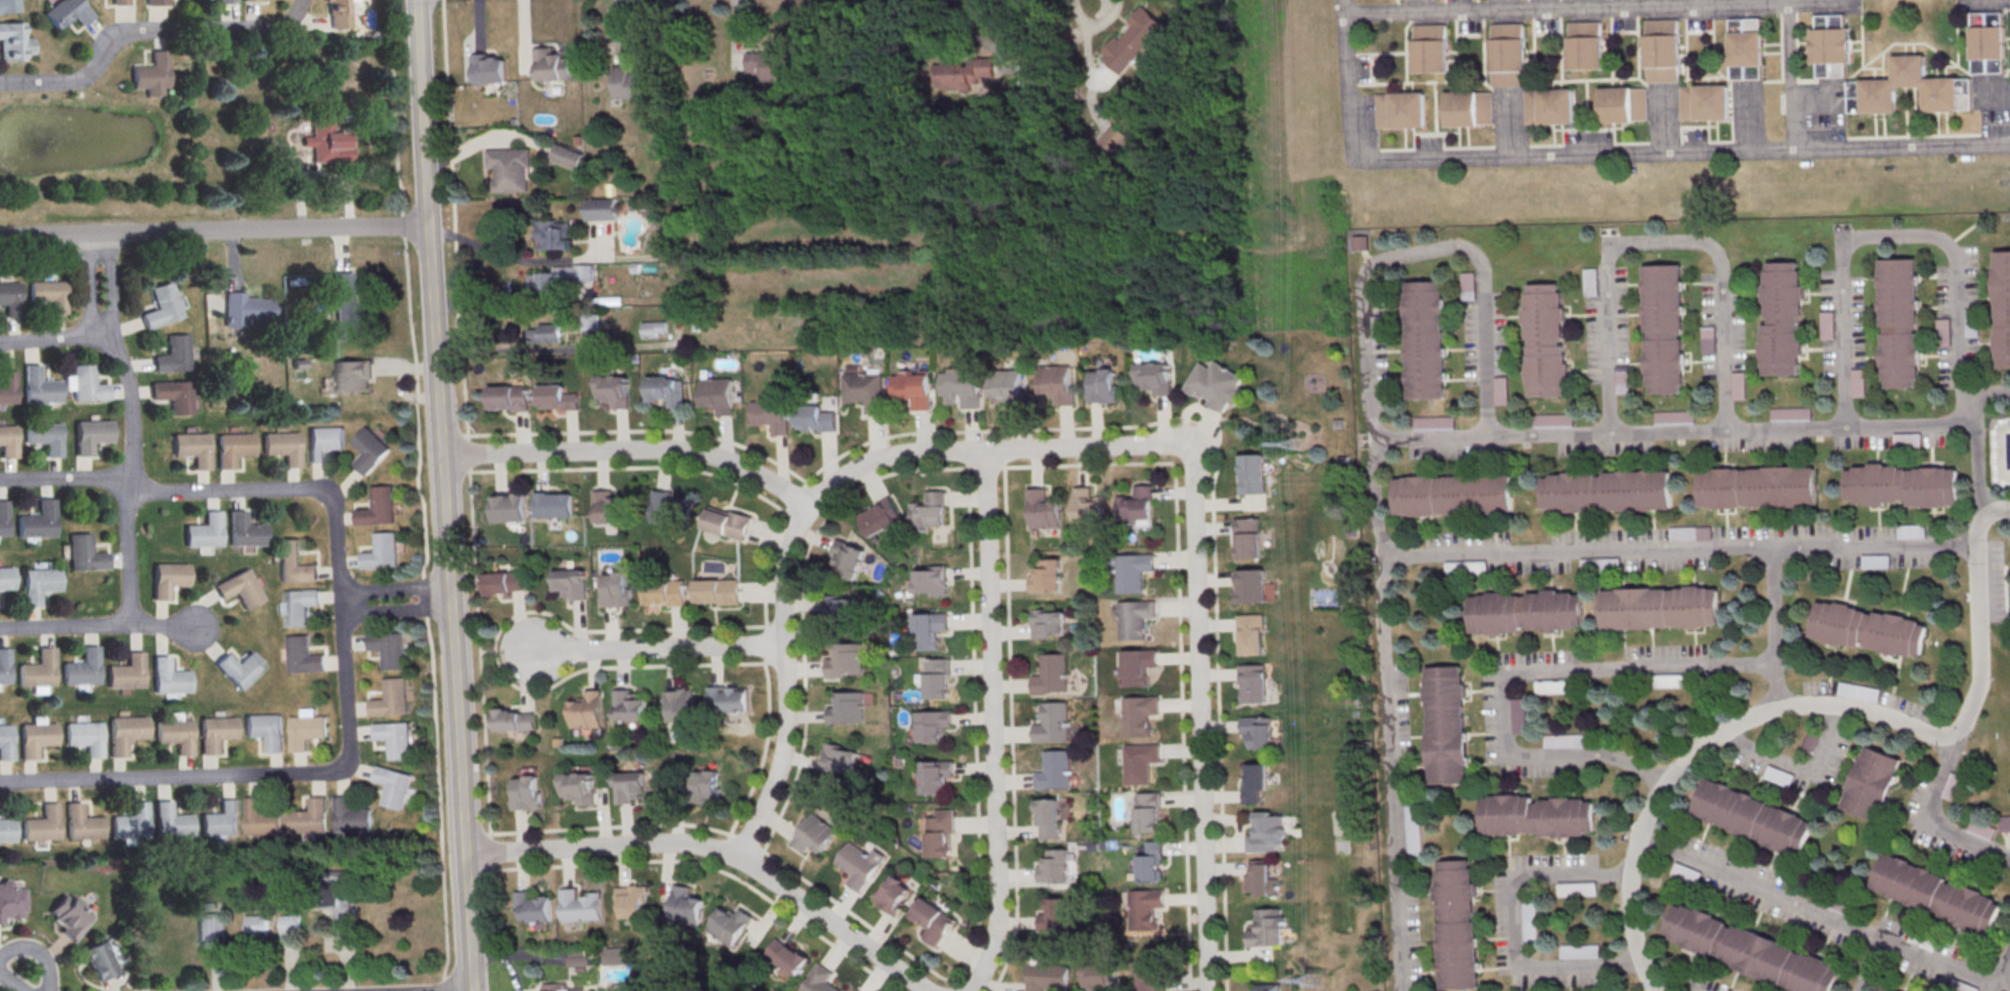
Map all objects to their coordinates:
building: (249, 1)
road: (1819, 1)
building: (225, 2)
building: (118, 4)
building: (155, 4)
building: (8, 7)
road: (1568, 10)
building: (65, 14)
building: (338, 15)
road: (1095, 23)
road: (266, 27)
road: (479, 28)
road: (523, 34)
road: (619, 35)
road: (736, 36)
building: (1132, 43)
building: (1987, 43)
building: (13, 44)
road: (992, 45)
building: (1586, 45)
building: (1831, 45)
road: (102, 46)
building: (1507, 47)
building: (1430, 48)
building: (1746, 48)
building: (1662, 50)
building: (551, 68)
building: (768, 69)
building: (490, 72)
building: (150, 77)
building: (962, 77)
road: (1344, 80)
building: (1909, 82)
road: (1793, 83)
building: (632, 88)
building: (1704, 102)
building: (1624, 104)
building: (1549, 107)
building: (1468, 108)
building: (1400, 109)
road: (490, 138)
building: (1113, 140)
building: (325, 145)
road: (1680, 153)
building: (567, 159)
building: (511, 172)
road: (301, 179)
road: (346, 195)
building: (600, 212)
road: (454, 219)
road: (215, 230)
road: (1897, 237)
building: (552, 238)
building: (1360, 242)
road: (1659, 242)
road: (1424, 252)
road: (529, 262)
building: (561, 279)
building: (1468, 285)
road: (90, 287)
road: (109, 287)
building: (49, 297)
building: (11, 302)
building: (344, 309)
building: (160, 310)
building: (2002, 311)
building: (244, 312)
building: (590, 323)
building: (1972, 323)
building: (1826, 325)
building: (1780, 326)
building: (1899, 327)
building: (1663, 328)
building: (1379, 329)
building: (653, 332)
building: (1944, 332)
building: (546, 337)
building: (1707, 339)
road: (50, 340)
road: (590, 341)
building: (1425, 344)
building: (1545, 347)
road: (553, 351)
building: (173, 356)
building: (353, 378)
building: (1620, 380)
building: (1153, 382)
building: (1857, 382)
building: (1101, 385)
building: (86, 387)
building: (1056, 387)
building: (913, 388)
building: (1215, 388)
building: (7, 390)
building: (39, 390)
building: (1500, 390)
building: (1006, 391)
building: (961, 392)
building: (667, 394)
building: (865, 394)
building: (614, 395)
building: (173, 398)
building: (717, 398)
building: (509, 402)
building: (559, 402)
building: (1790, 413)
building: (770, 420)
building: (815, 423)
road: (1702, 431)
road: (558, 434)
building: (91, 438)
building: (1907, 440)
building: (44, 441)
building: (324, 444)
building: (8, 445)
power tower: (1296, 447)
building: (233, 450)
building: (283, 450)
road: (631, 450)
road: (986, 450)
building: (193, 451)
building: (370, 453)
road: (128, 478)
building: (1251, 478)
building: (1901, 490)
road: (163, 493)
building: (1755, 494)
road: (444, 495)
building: (1604, 496)
road: (1373, 499)
building: (1453, 500)
building: (555, 505)
building: (1136, 505)
building: (1088, 506)
building: (609, 507)
building: (512, 508)
building: (669, 508)
building: (1042, 509)
building: (929, 511)
building: (379, 512)
building: (880, 517)
building: (3, 521)
building: (729, 523)
building: (37, 525)
building: (1910, 531)
building: (243, 532)
building: (1690, 533)
building: (204, 535)
building: (1246, 537)
road: (1702, 552)
building: (84, 553)
building: (382, 555)
building: (848, 559)
building: (1874, 561)
building: (293, 564)
building: (1464, 568)
building: (1130, 571)
building: (1046, 576)
building: (6, 578)
building: (166, 580)
building: (930, 580)
road: (1175, 581)
building: (506, 582)
building: (573, 583)
building: (38, 584)
building: (1248, 585)
building: (239, 589)
road: (391, 589)
building: (617, 589)
building: (717, 592)
building: (665, 593)
building: (1658, 606)
building: (299, 607)
building: (839, 610)
building: (1523, 611)
road: (394, 612)
road: (425, 614)
building: (1132, 618)
building: (1048, 623)
road: (64, 627)
road: (162, 627)
road: (1771, 629)
road: (341, 630)
building: (928, 630)
building: (1249, 634)
building: (1867, 634)
building: (388, 649)
road: (651, 649)
building: (302, 657)
building: (843, 661)
building: (4, 666)
building: (1135, 666)
building: (82, 668)
building: (238, 669)
building: (37, 670)
building: (126, 673)
building: (1053, 673)
road: (1514, 675)
building: (168, 678)
building: (934, 679)
building: (1251, 684)
road: (782, 686)
building: (1552, 686)
building: (1857, 692)
building: (389, 699)
building: (728, 699)
building: (679, 705)
building: (629, 706)
road: (1848, 707)
building: (845, 708)
building: (587, 710)
building: (1136, 715)
building: (1516, 715)
building: (516, 719)
building: (1056, 720)
road: (1197, 721)
road: (989, 723)
building: (1443, 724)
building: (931, 725)
building: (265, 730)
building: (1257, 730)
building: (305, 731)
road: (1008, 731)
building: (125, 733)
building: (216, 733)
building: (175, 736)
road: (972, 736)
building: (84, 738)
building: (393, 738)
building: (35, 739)
building: (1562, 740)
building: (1808, 741)
building: (5, 743)
road: (1216, 743)
building: (838, 759)
building: (1137, 763)
road: (1795, 767)
building: (1057, 769)
road: (1387, 773)
road: (754, 774)
building: (934, 775)
building: (1776, 775)
road: (171, 778)
building: (1253, 781)
building: (1870, 783)
building: (630, 786)
building: (1950, 786)
building: (391, 787)
building: (705, 787)
building: (578, 788)
building: (527, 792)
building: (1145, 813)
building: (1533, 814)
building: (349, 816)
building: (1751, 816)
road: (1933, 816)
building: (309, 817)
building: (260, 819)
building: (1047, 819)
building: (220, 821)
building: (170, 822)
building: (129, 823)
building: (2004, 823)
building: (80, 824)
building: (40, 825)
building: (1411, 828)
building: (1980, 829)
building: (5, 831)
building: (1264, 832)
building: (940, 833)
building: (813, 834)
road: (715, 851)
building: (1150, 862)
building: (858, 864)
building: (1054, 867)
building: (1684, 873)
building: (1259, 880)
building: (1575, 888)
building: (1933, 893)
building: (892, 894)
building: (10, 901)
building: (1830, 901)
building: (632, 902)
building: (342, 903)
building: (581, 905)
building: (535, 906)
building: (684, 906)
road: (838, 908)
building: (1139, 910)
road: (1816, 914)
building: (1056, 915)
building: (67, 917)
building: (933, 920)
building: (1528, 921)
building: (729, 923)
building: (1454, 924)
building: (290, 926)
building: (257, 927)
building: (1265, 927)
building: (210, 929)
road: (1514, 929)
building: (1748, 950)
building: (1578, 951)
road: (38, 953)
building: (583, 955)
building: (617, 955)
building: (786, 955)
road: (2003, 958)
road: (504, 960)
building: (98, 961)
road: (1871, 966)
building: (1098, 975)
building: (1151, 975)
building: (1045, 977)
power tower: (1310, 979)
building: (818, 980)
road: (11, 983)
building: (562, 987)
building: (1267, 987)
building: (1885, 989)
building: (857, 990)

